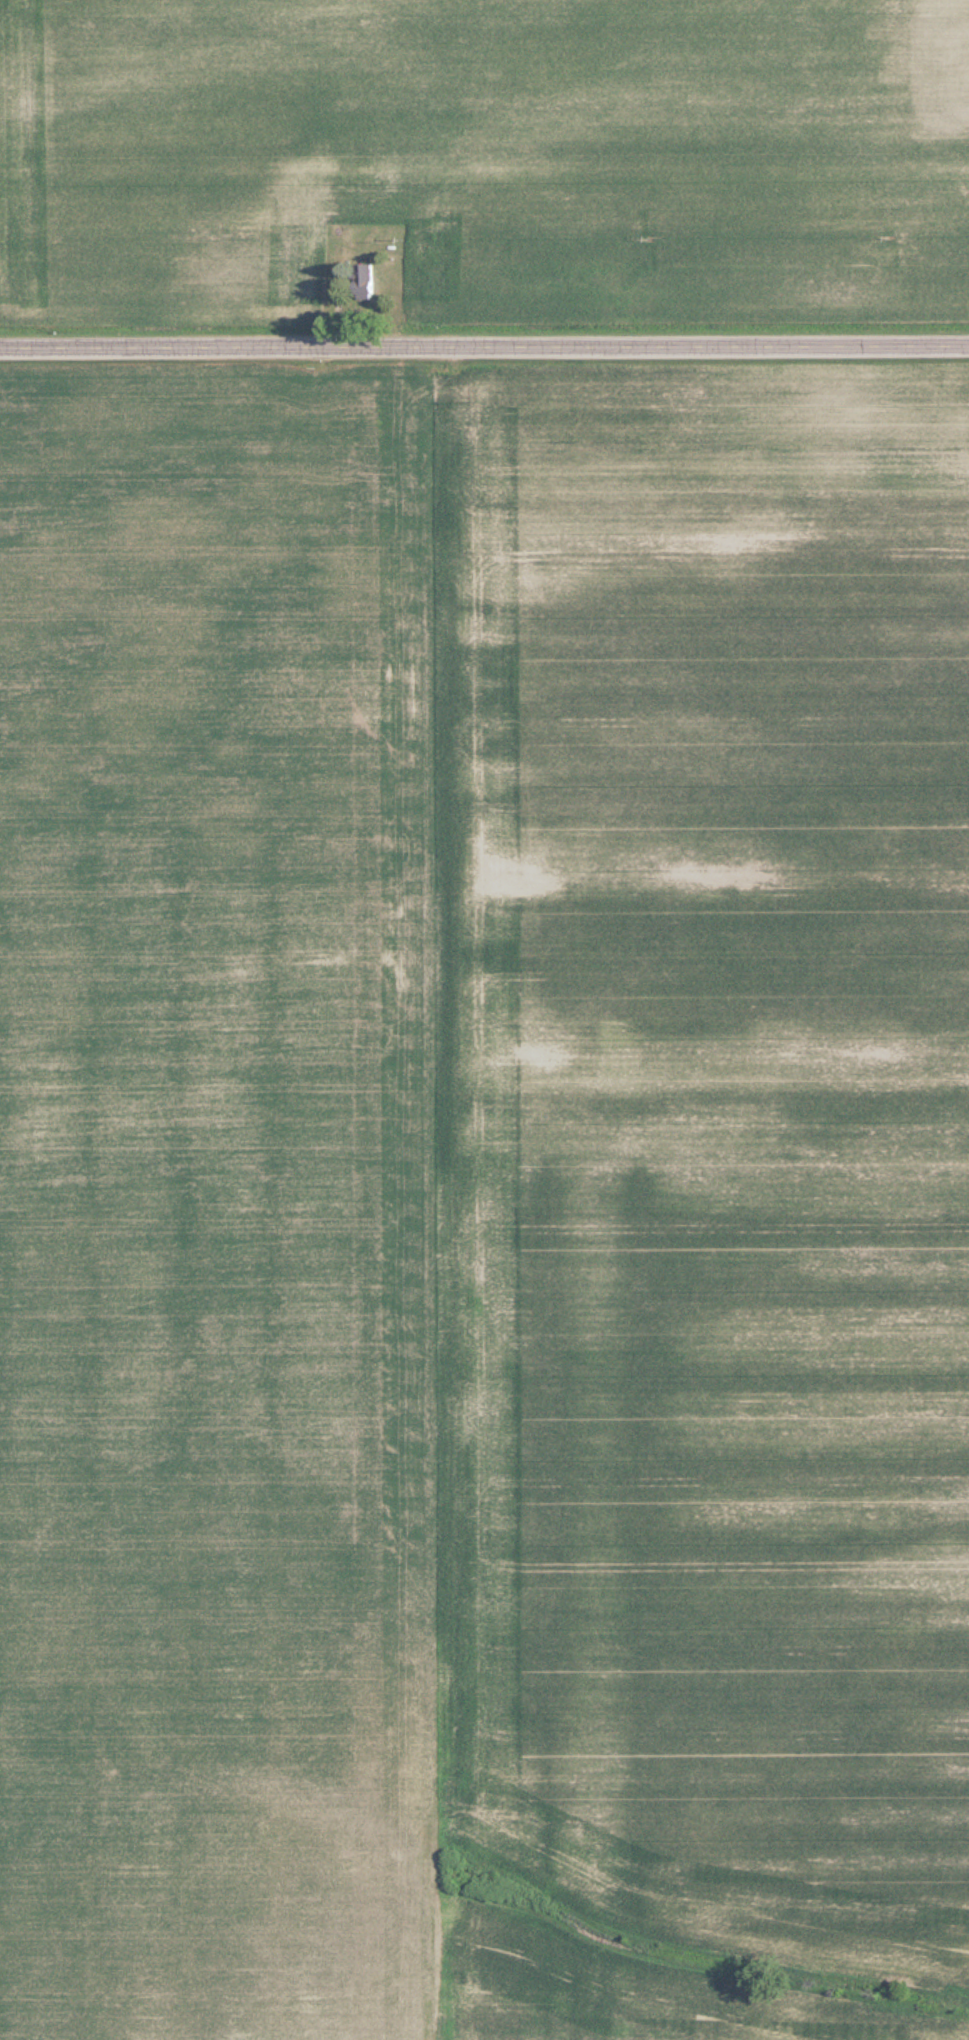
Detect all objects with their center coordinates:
building: (360, 282)
road: (484, 347)

